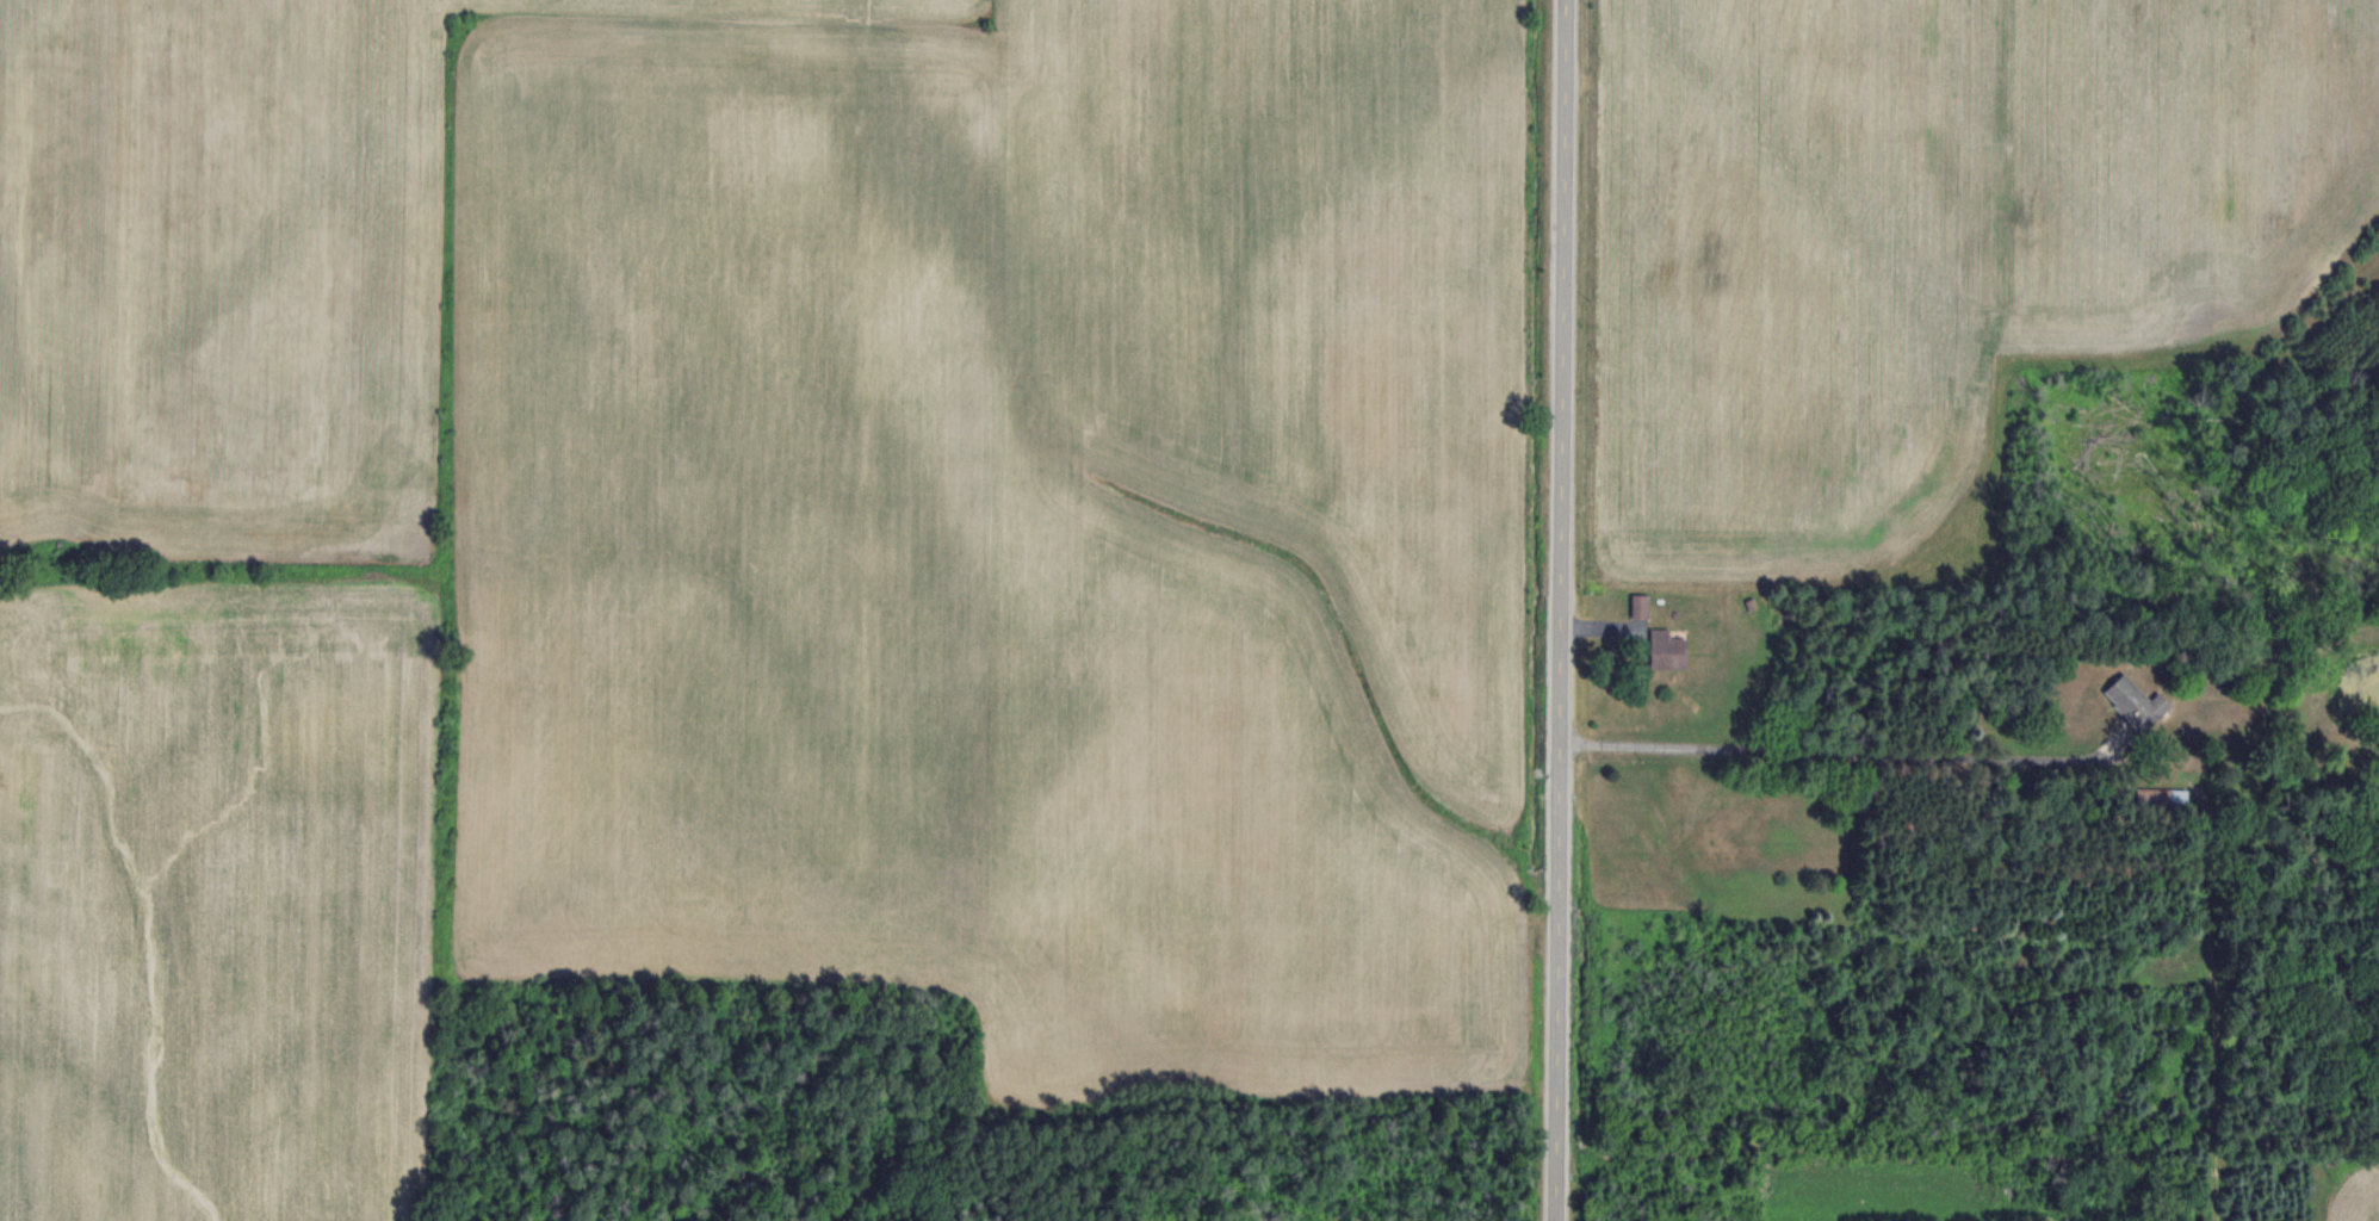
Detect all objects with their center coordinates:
building: (1640, 606)
road: (1560, 609)
building: (1667, 650)
building: (2136, 702)
road: (1821, 751)
building: (2161, 797)

